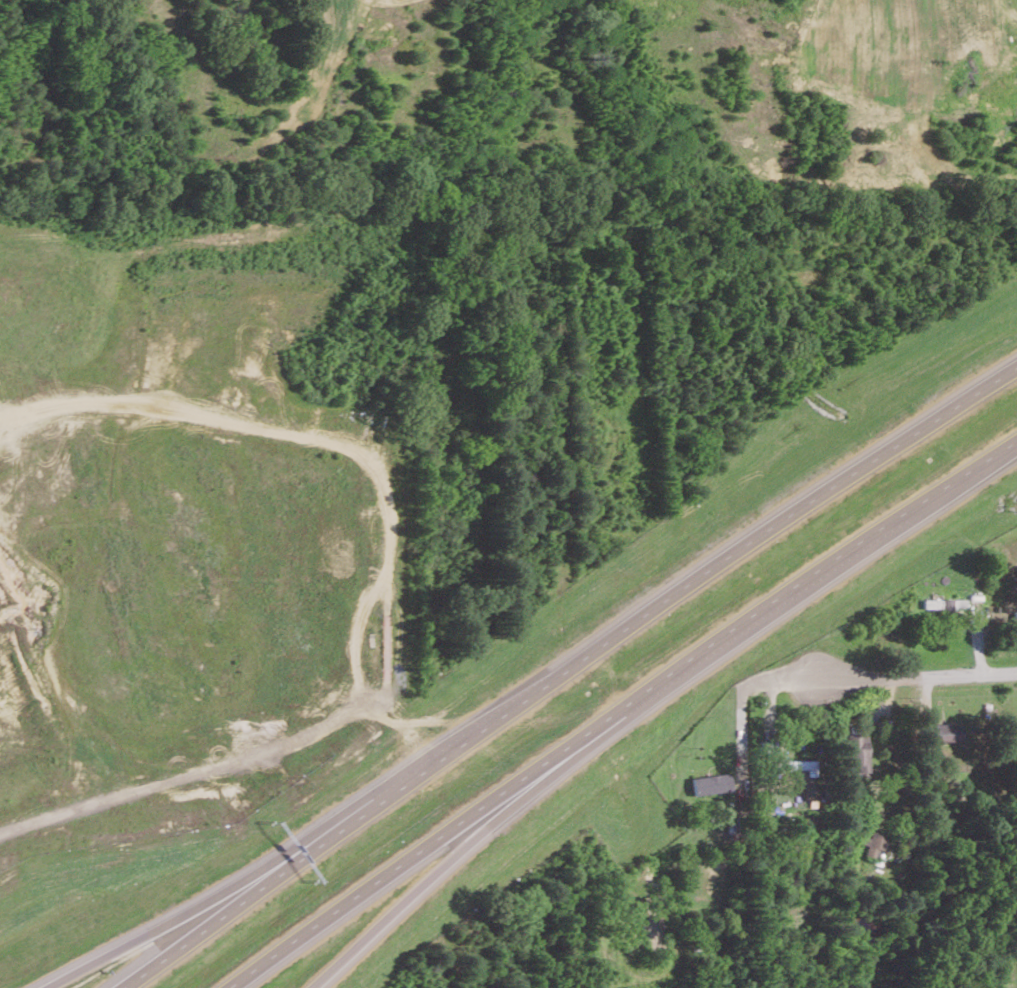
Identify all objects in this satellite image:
road: (712, 562)
building: (944, 603)
building: (1014, 616)
road: (918, 673)
road: (770, 679)
road: (614, 714)
road: (740, 727)
building: (947, 732)
building: (855, 751)
building: (801, 765)
building: (712, 783)
road: (477, 838)
building: (874, 842)
road: (234, 881)
road: (264, 881)

